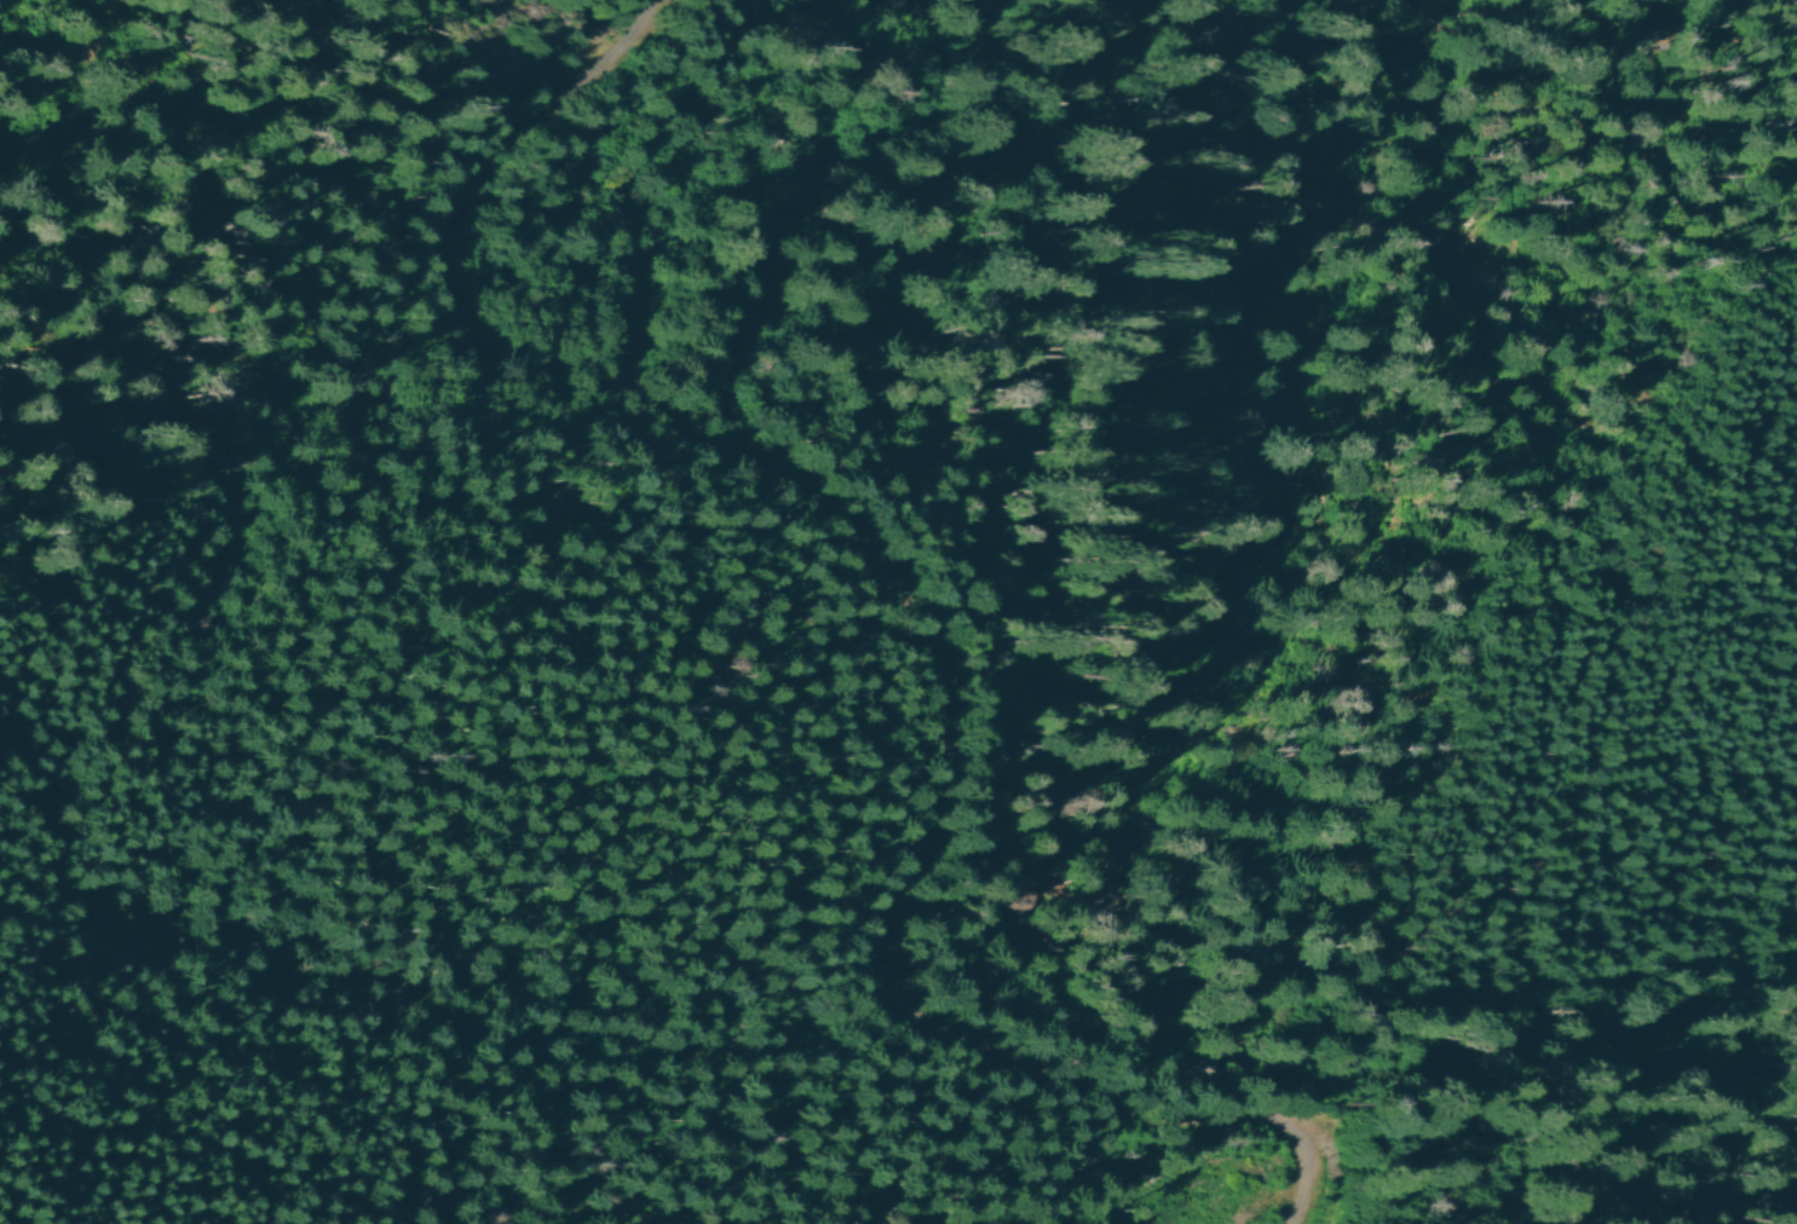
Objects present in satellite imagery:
road: (881, 616)

